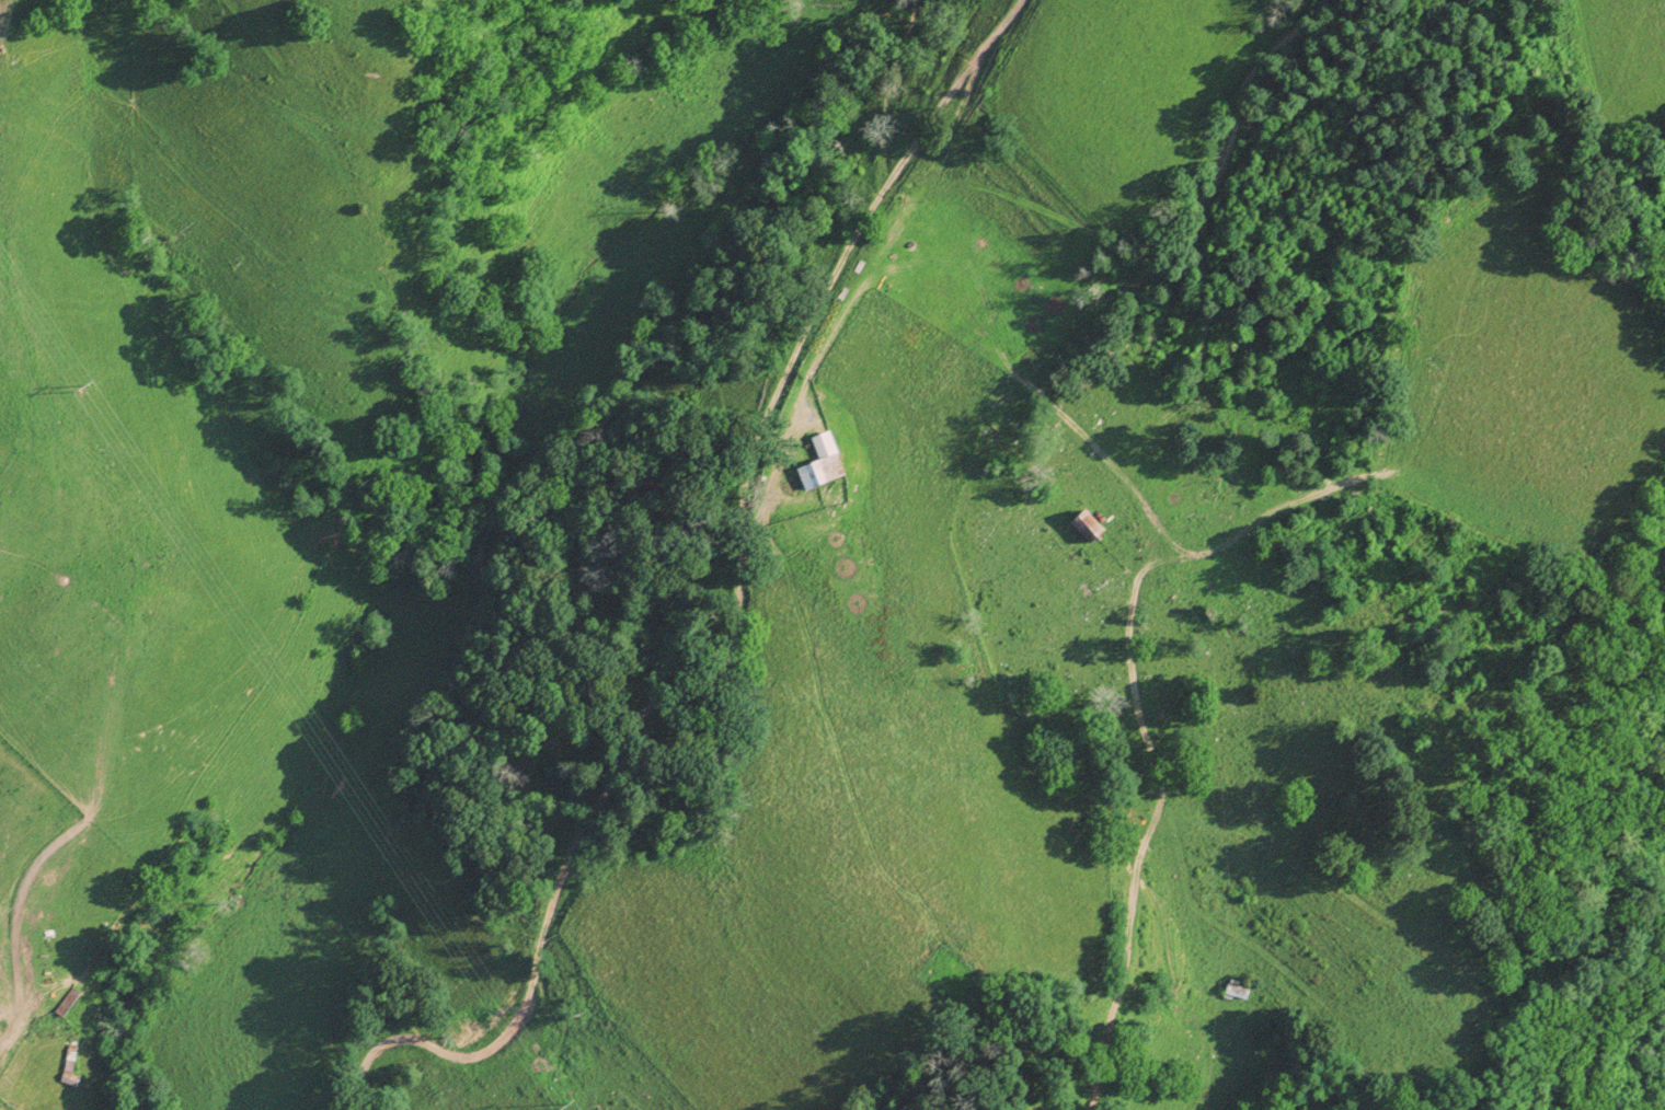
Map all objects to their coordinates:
crop: (74, 446)
building: (819, 460)
building: (1083, 524)
road: (730, 622)
road: (1233, 829)
crop: (48, 888)
building: (1236, 990)
building: (65, 1004)

